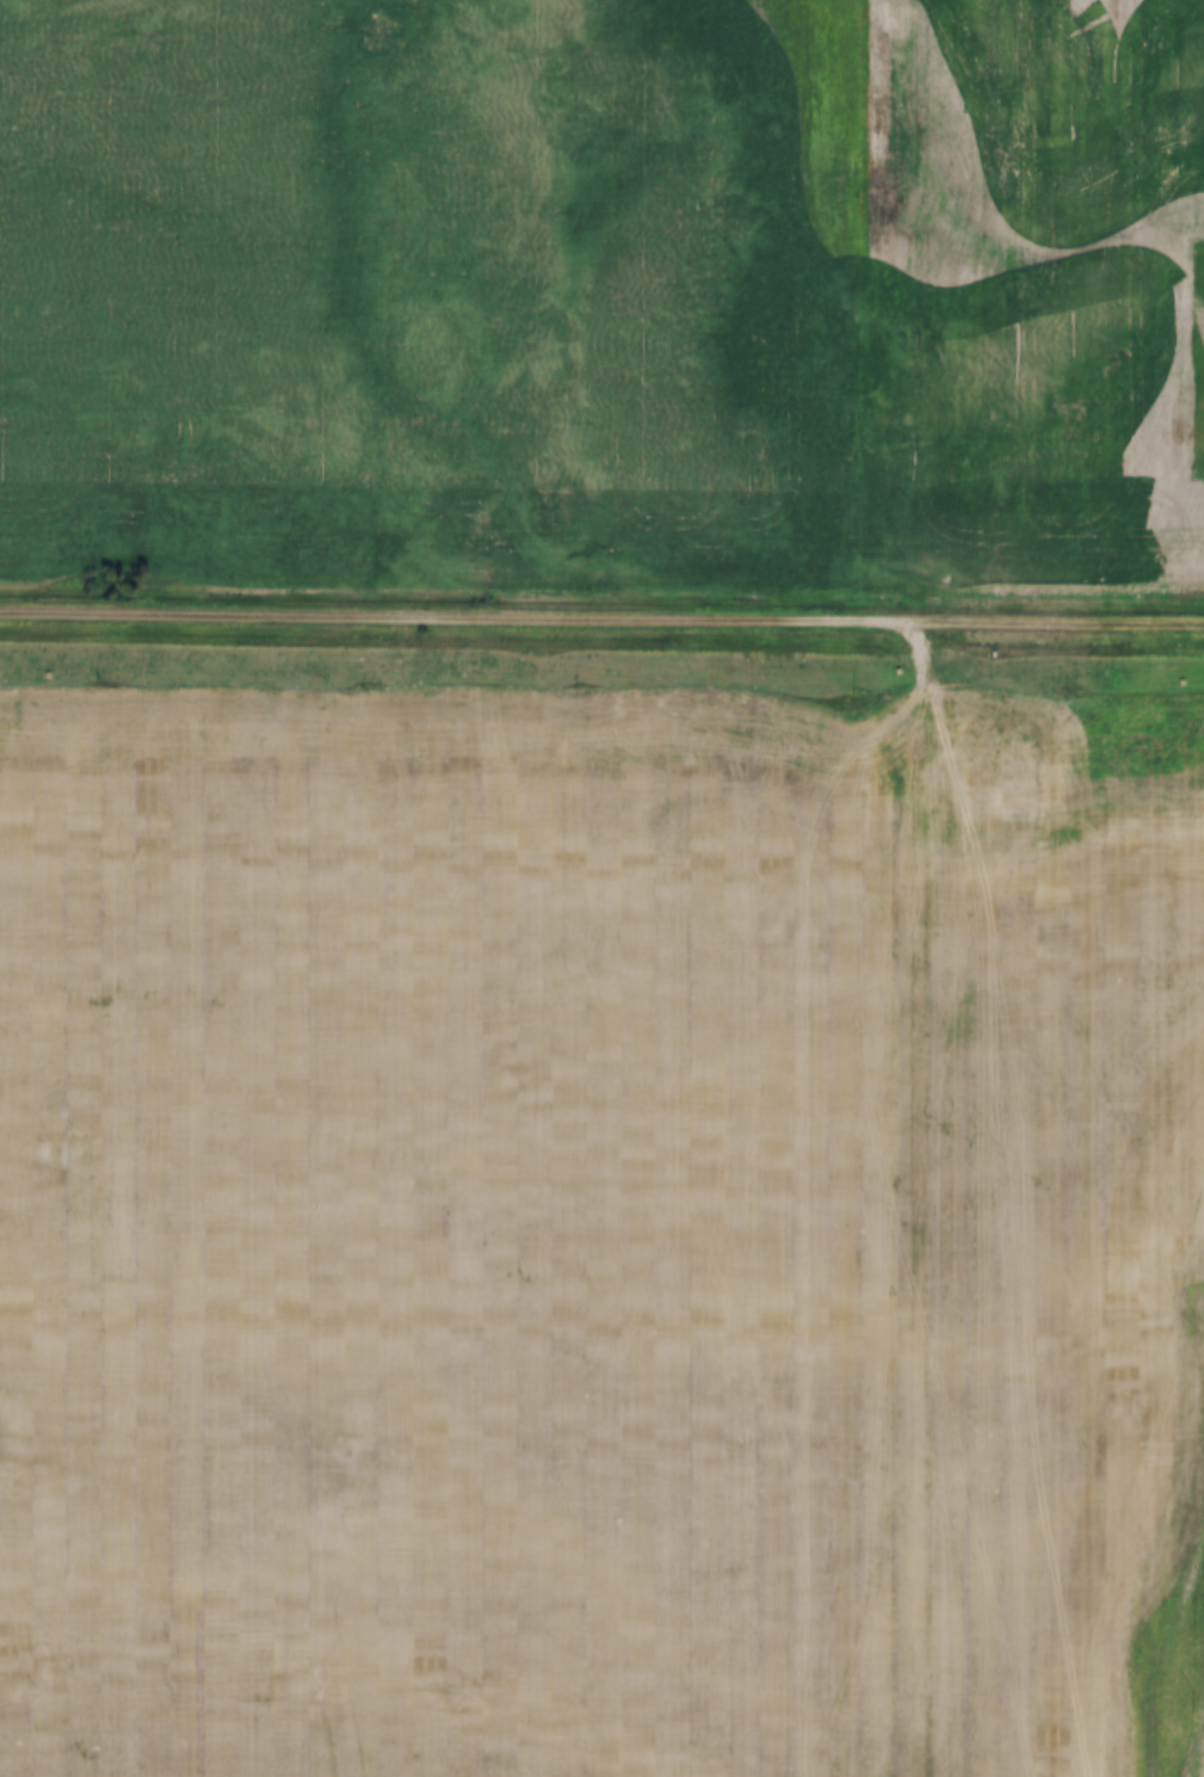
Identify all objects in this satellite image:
road: (601, 621)
road: (915, 977)

